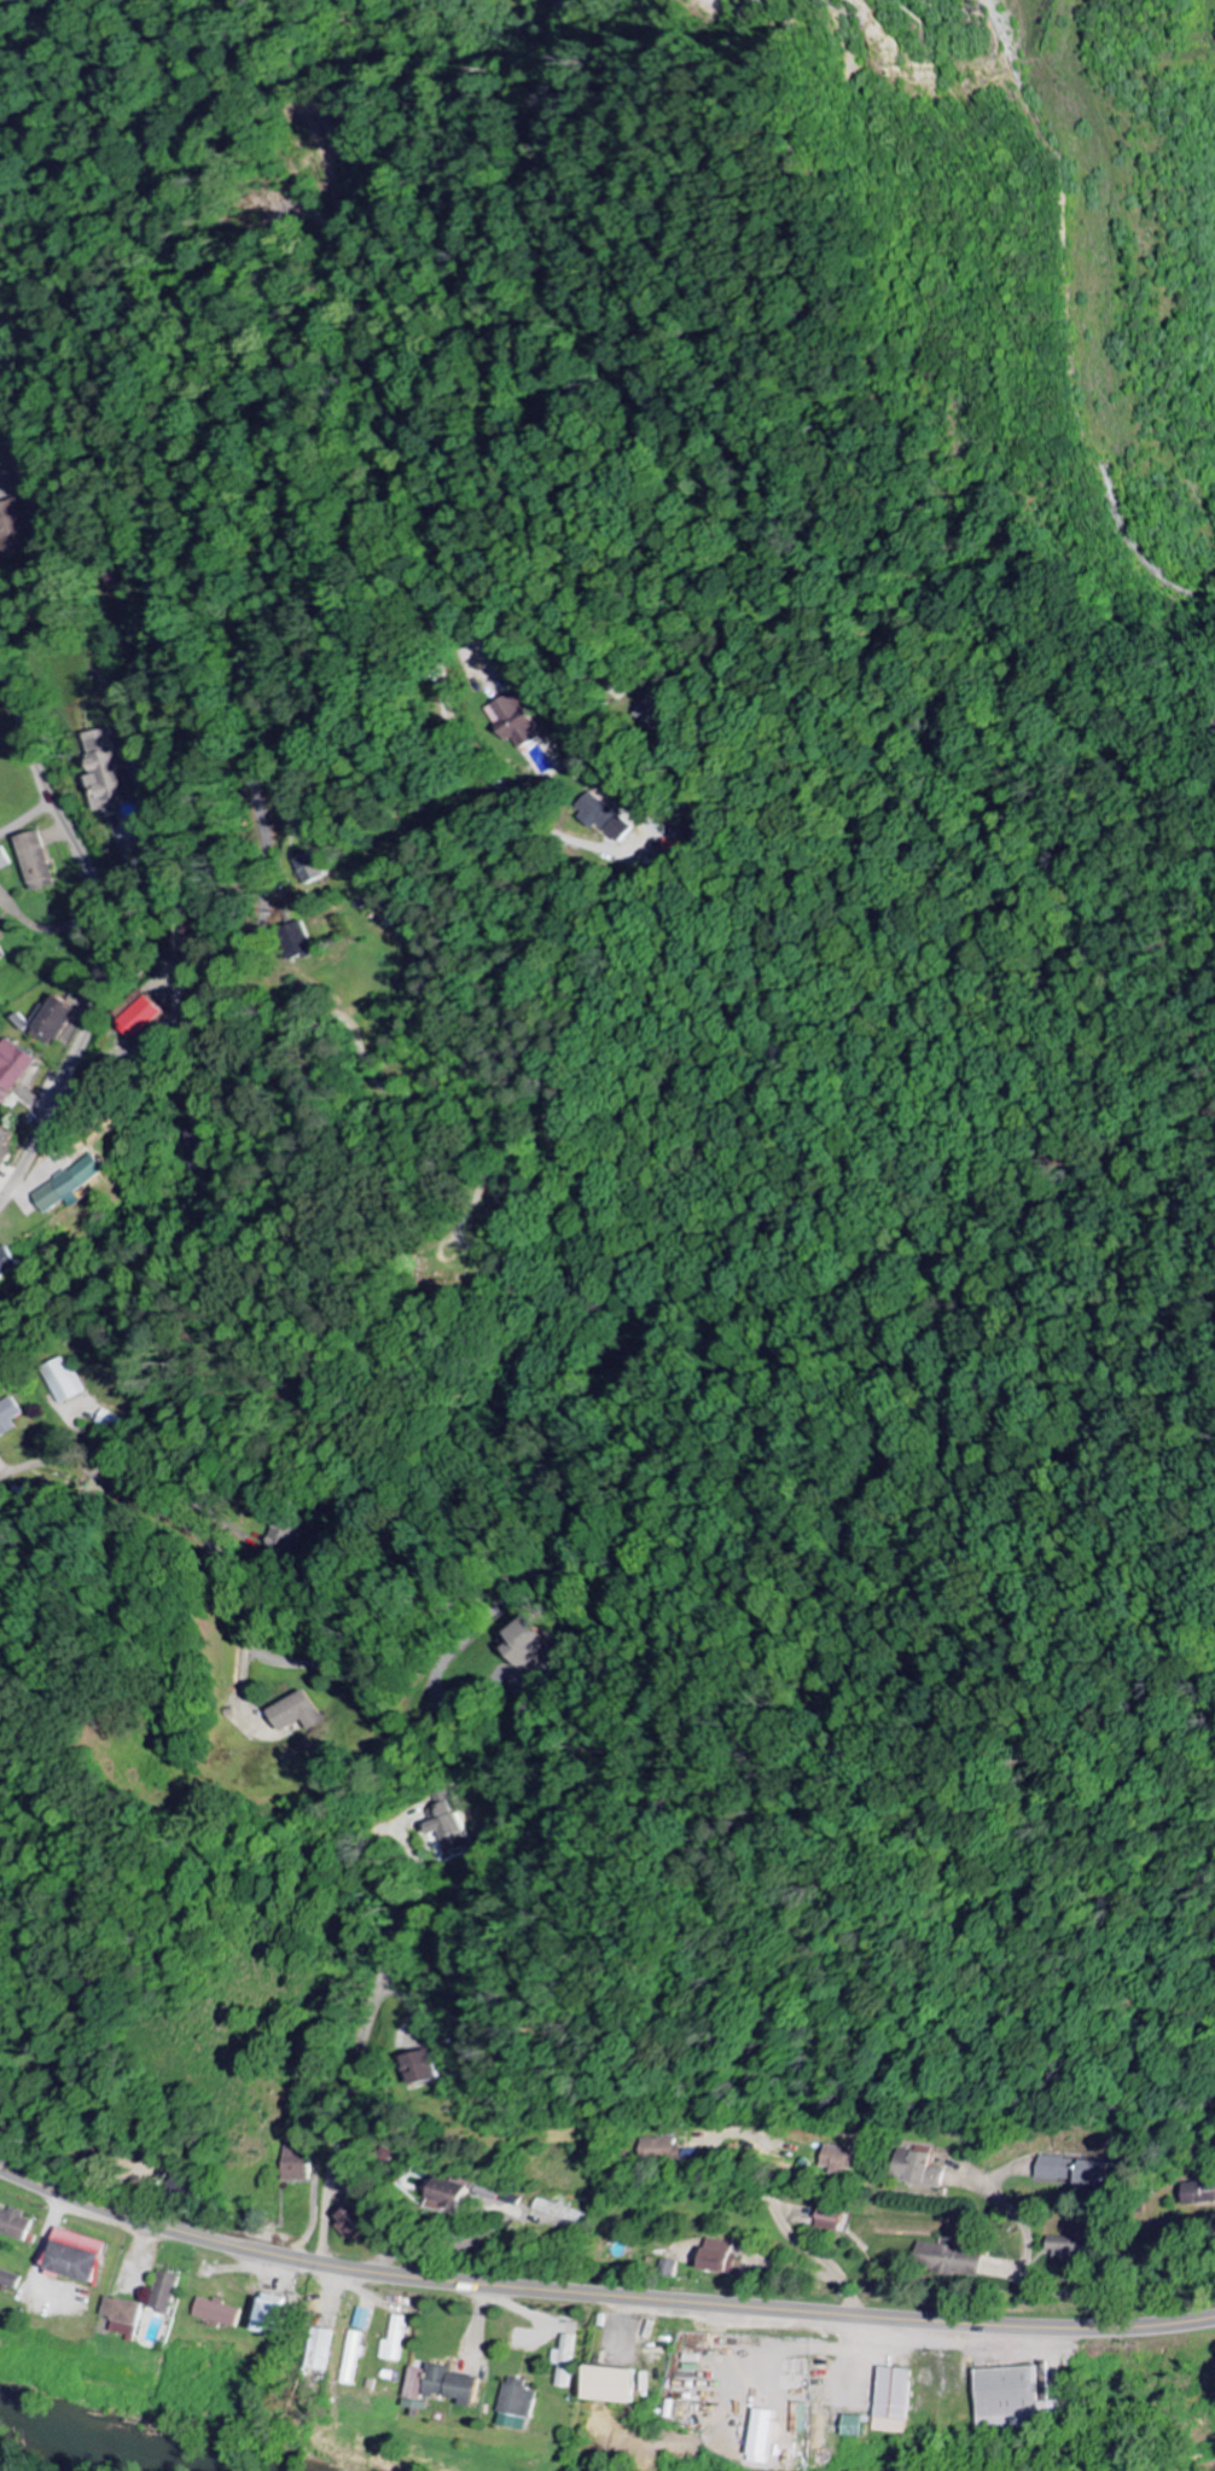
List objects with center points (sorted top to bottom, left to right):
road: (280, 443)
building: (13, 530)
building: (518, 721)
building: (111, 771)
road: (25, 816)
building: (616, 822)
building: (5, 861)
building: (41, 862)
building: (314, 870)
road: (111, 930)
building: (304, 941)
building: (1, 955)
building: (150, 1018)
building: (59, 1022)
building: (16, 1071)
building: (7, 1144)
building: (72, 1187)
building: (10, 1267)
building: (10, 1417)
road: (29, 1463)
road: (178, 1523)
road: (390, 1627)
building: (525, 1643)
building: (298, 1711)
building: (446, 1826)
road: (366, 2039)
building: (420, 2068)
building: (659, 2152)
building: (839, 2159)
building: (301, 2163)
building: (919, 2170)
building: (1070, 2171)
building: (441, 2192)
building: (1198, 2193)
building: (559, 2213)
building: (827, 2221)
building: (18, 2225)
building: (357, 2226)
building: (1060, 2248)
building: (715, 2257)
building: (85, 2258)
building: (946, 2258)
building: (667, 2269)
building: (12, 2278)
road: (842, 2284)
road: (1157, 2291)
building: (170, 2292)
road: (599, 2292)
building: (221, 2314)
building: (281, 2318)
building: (130, 2319)
building: (366, 2319)
building: (399, 2341)
building: (331, 2350)
building: (357, 2356)
building: (564, 2362)
building: (604, 2385)
building: (450, 2386)
building: (890, 2401)
building: (515, 2405)
building: (850, 2426)
river: (98, 2444)

